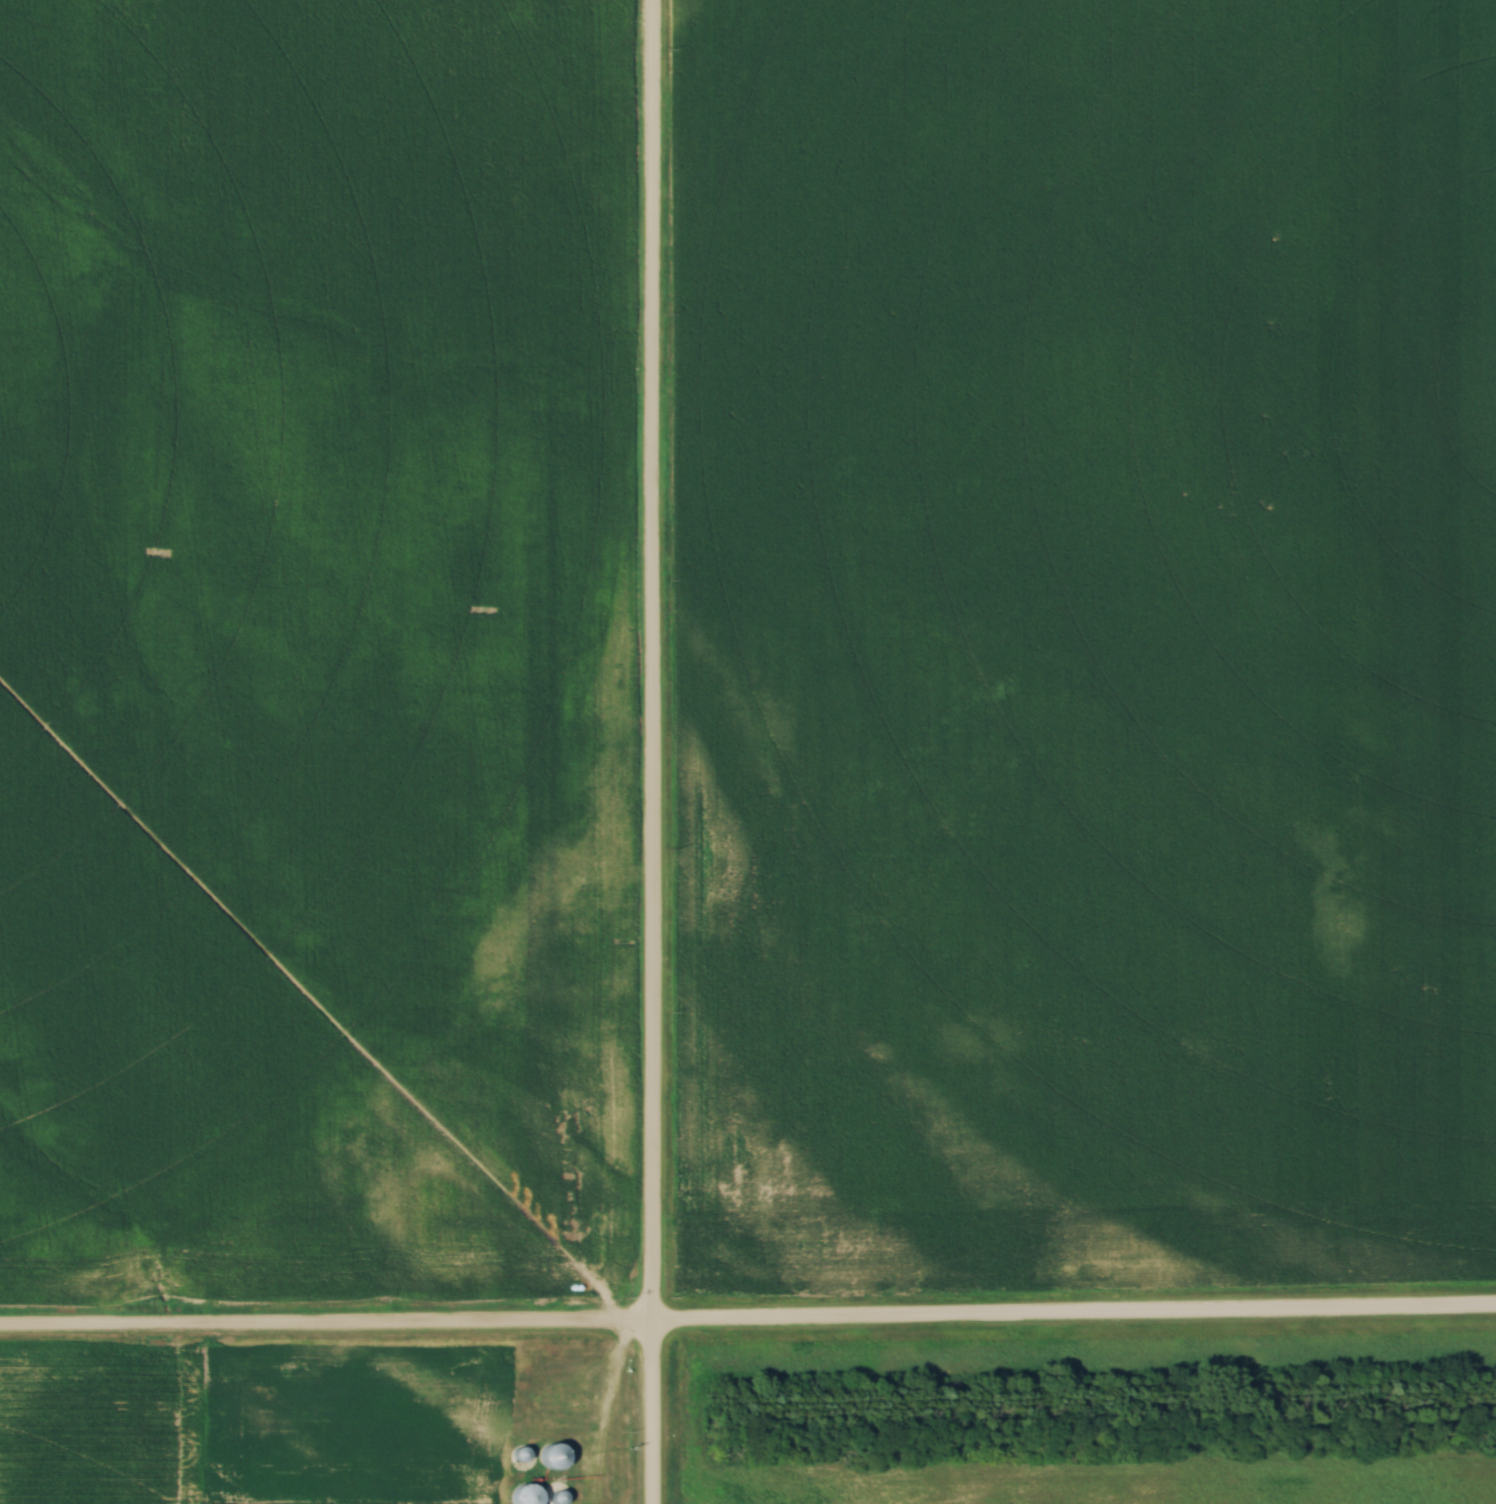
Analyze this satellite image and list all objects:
road: (651, 752)
road: (748, 1327)
building: (516, 1455)
building: (548, 1457)
building: (522, 1496)
building: (554, 1497)

